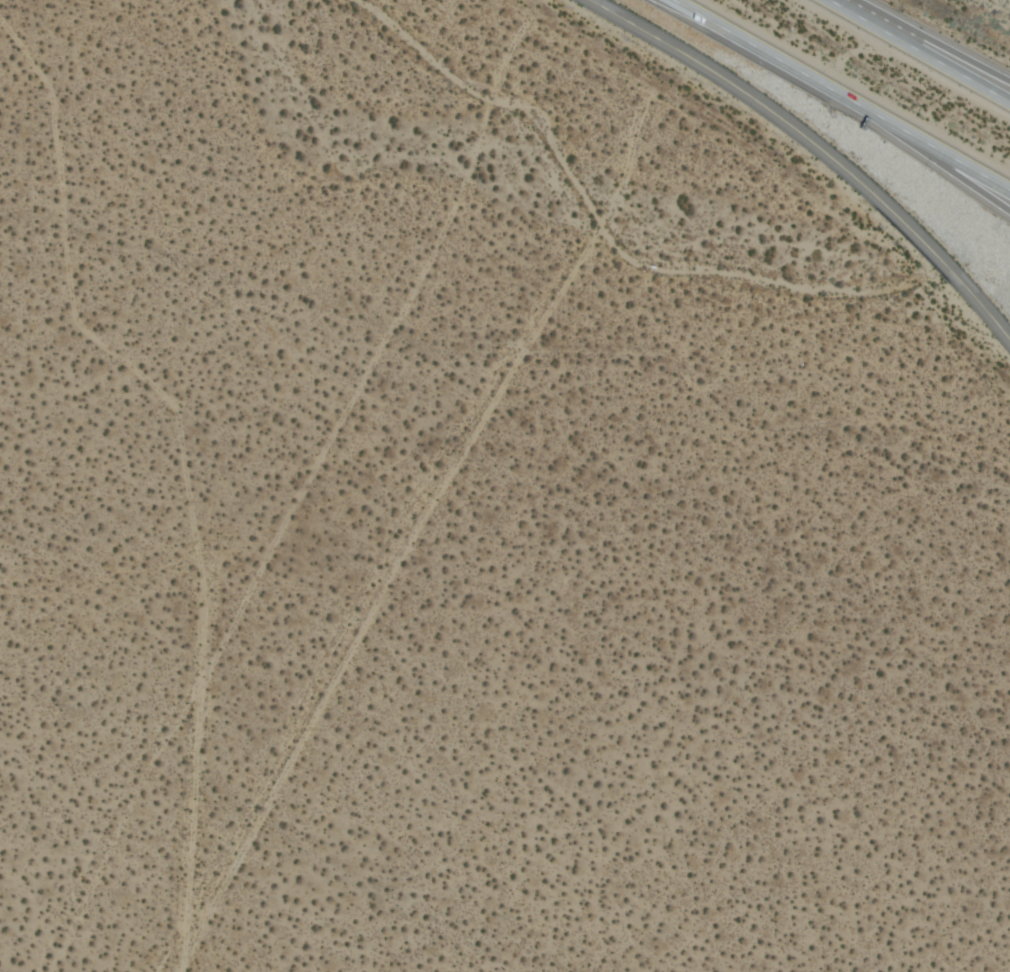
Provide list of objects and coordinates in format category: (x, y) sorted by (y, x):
road: (919, 51)
road: (954, 62)
road: (848, 90)
road: (786, 124)
road: (959, 164)
road: (968, 290)
road: (993, 318)

